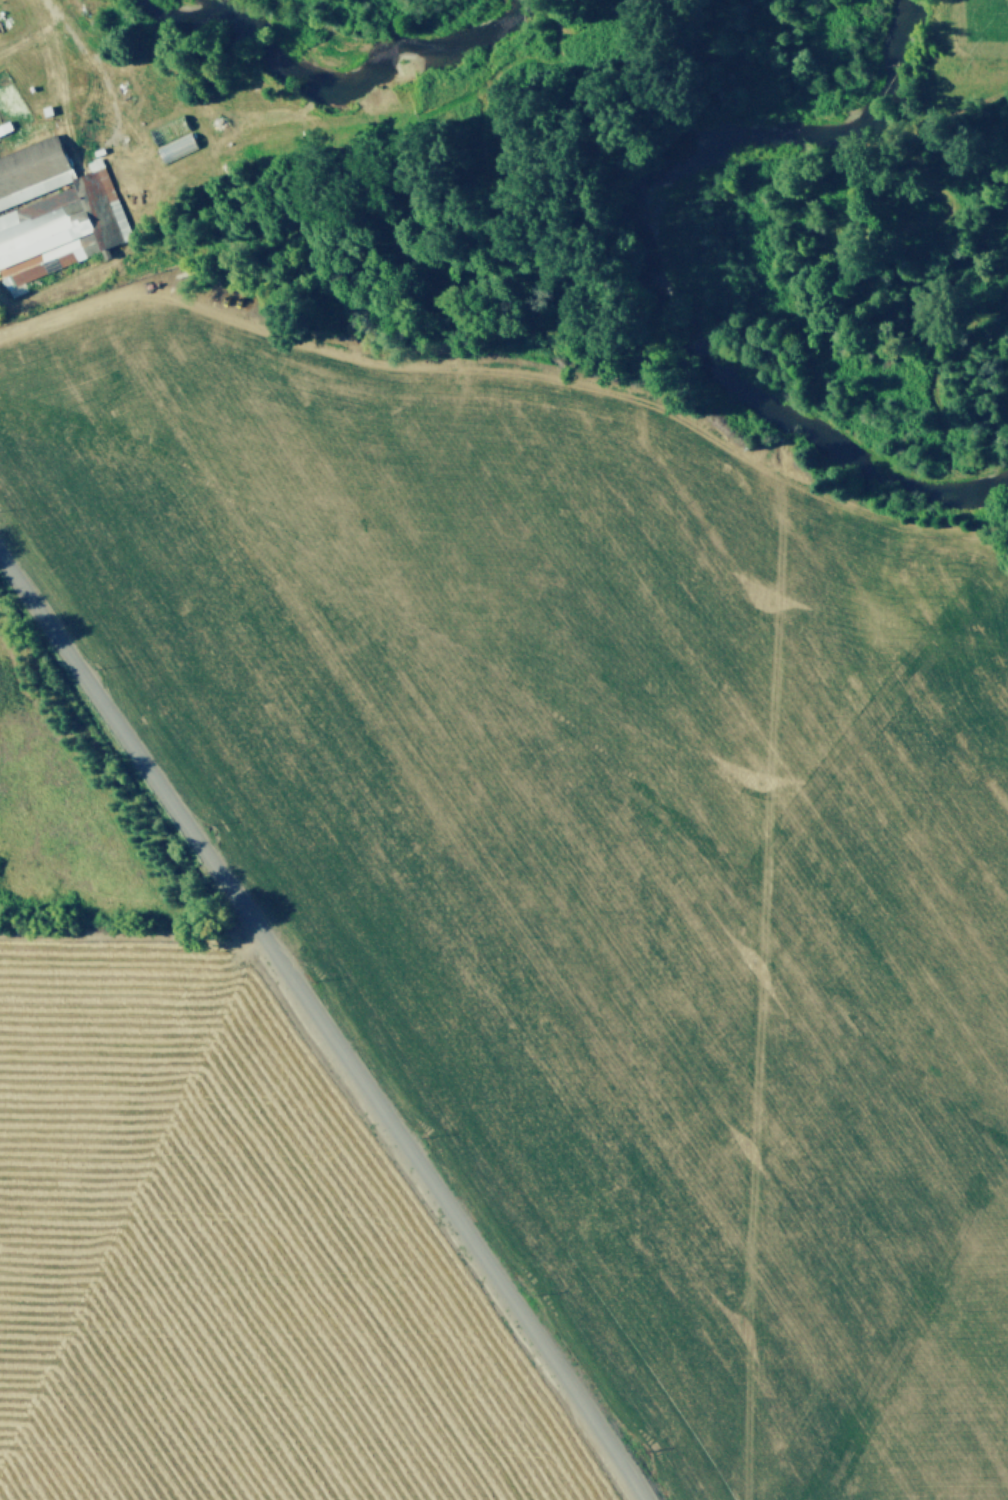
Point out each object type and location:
river: (354, 41)
crop: (977, 46)
building: (33, 170)
building: (60, 228)
river: (661, 280)
road: (389, 364)
crop: (471, 920)
road: (325, 1026)

